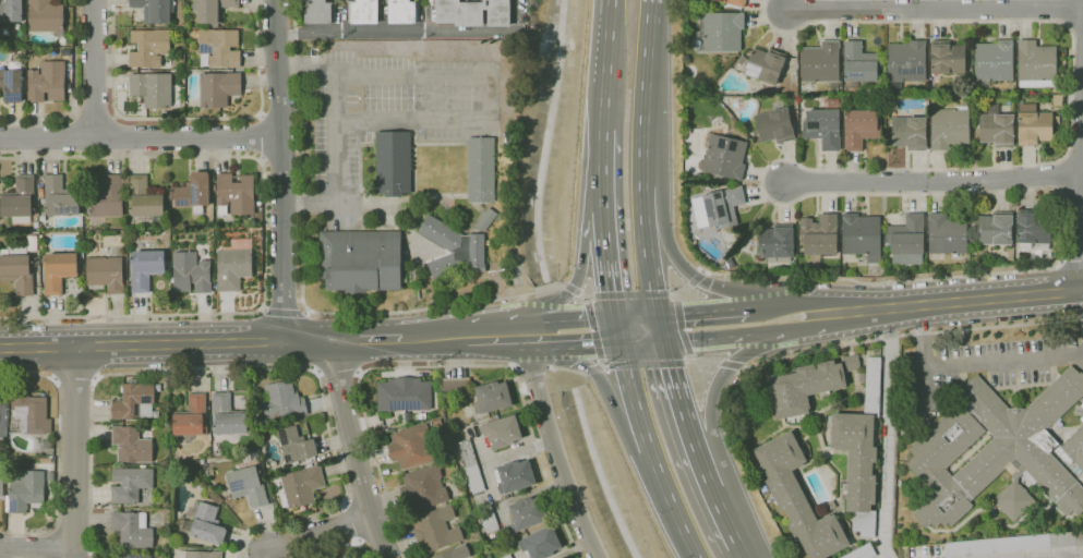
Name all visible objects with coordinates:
building: (734, 2)
road: (934, 9)
building: (153, 10)
building: (212, 10)
building: (11, 11)
building: (363, 11)
building: (402, 11)
building: (320, 12)
building: (472, 12)
building: (46, 16)
road: (408, 32)
building: (719, 32)
building: (148, 48)
building: (218, 48)
building: (947, 58)
building: (742, 60)
building: (994, 62)
building: (905, 63)
building: (821, 64)
building: (858, 64)
building: (1036, 64)
road: (606, 65)
building: (766, 65)
road: (94, 68)
building: (47, 82)
building: (11, 85)
building: (219, 88)
building: (152, 89)
road: (75, 94)
road: (492, 96)
building: (1057, 100)
building: (950, 104)
road: (94, 116)
building: (795, 118)
road: (188, 119)
building: (774, 125)
building: (823, 125)
building: (1035, 125)
building: (861, 128)
building: (950, 128)
building: (996, 128)
road: (334, 131)
building: (910, 133)
road: (141, 136)
road: (260, 137)
road: (602, 155)
building: (723, 157)
road: (641, 158)
building: (393, 163)
road: (768, 167)
building: (481, 169)
road: (282, 170)
road: (934, 180)
building: (40, 191)
building: (193, 191)
building: (236, 193)
building: (60, 196)
building: (106, 197)
building: (144, 197)
building: (20, 201)
building: (722, 206)
building: (486, 219)
road: (1082, 219)
building: (35, 225)
building: (995, 229)
building: (1034, 230)
road: (263, 233)
building: (947, 233)
building: (819, 235)
building: (861, 235)
building: (906, 240)
road: (583, 241)
building: (777, 241)
building: (32, 243)
building: (454, 248)
road: (605, 248)
road: (670, 250)
building: (81, 255)
road: (1072, 258)
building: (361, 260)
building: (233, 265)
building: (145, 268)
road: (303, 268)
building: (17, 269)
building: (58, 271)
building: (191, 272)
road: (702, 272)
building: (106, 274)
road: (696, 279)
road: (559, 283)
road: (563, 283)
road: (545, 288)
road: (571, 289)
road: (683, 290)
road: (582, 294)
road: (630, 294)
road: (673, 294)
road: (589, 296)
road: (676, 298)
road: (586, 300)
road: (961, 302)
road: (793, 303)
road: (263, 310)
road: (306, 312)
road: (557, 312)
road: (702, 312)
road: (285, 313)
traffic signals: (659, 316)
road: (636, 317)
traffic signals: (614, 318)
road: (590, 319)
road: (554, 325)
road: (681, 328)
road: (799, 328)
road: (616, 329)
road: (662, 329)
road: (593, 330)
road: (911, 333)
road: (529, 335)
road: (490, 336)
road: (710, 337)
road: (434, 338)
road: (558, 339)
road: (366, 340)
road: (595, 342)
traffic signals: (619, 342)
road: (642, 342)
traffic signals: (665, 342)
road: (166, 344)
road: (566, 349)
road: (691, 359)
road: (601, 363)
road: (702, 363)
building: (851, 363)
road: (973, 363)
road: (646, 364)
road: (731, 365)
road: (338, 366)
road: (442, 366)
road: (531, 366)
road: (604, 366)
road: (516, 367)
road: (549, 367)
road: (742, 368)
road: (567, 369)
road: (591, 369)
road: (248, 371)
road: (317, 371)
road: (358, 372)
road: (581, 374)
road: (74, 381)
building: (166, 385)
building: (456, 385)
road: (714, 387)
building: (802, 387)
building: (404, 395)
building: (491, 397)
road: (679, 398)
building: (284, 400)
building: (134, 401)
road: (612, 404)
building: (29, 414)
building: (437, 414)
building: (2, 415)
building: (227, 415)
building: (192, 416)
building: (436, 423)
building: (501, 433)
road: (887, 433)
building: (46, 444)
building: (132, 445)
building: (296, 445)
building: (413, 446)
road: (553, 449)
building: (861, 449)
road: (354, 451)
building: (999, 451)
road: (75, 452)
road: (650, 452)
road: (59, 454)
building: (467, 464)
road: (702, 472)
building: (514, 476)
building: (1081, 477)
building: (130, 484)
building: (1, 485)
building: (29, 486)
building: (249, 486)
building: (300, 486)
building: (423, 487)
building: (797, 498)
building: (829, 506)
building: (526, 513)
road: (723, 517)
building: (488, 519)
building: (205, 525)
building: (132, 530)
building: (435, 530)
road: (317, 533)
building: (540, 543)
building: (1014, 544)
road: (339, 546)
road: (37, 547)
road: (741, 550)
building: (862, 551)
building: (903, 551)
building: (455, 553)
building: (198, 554)
road: (1056, 555)
building: (134, 556)
building: (507, 556)
road: (1073, 556)
building: (344, 557)

